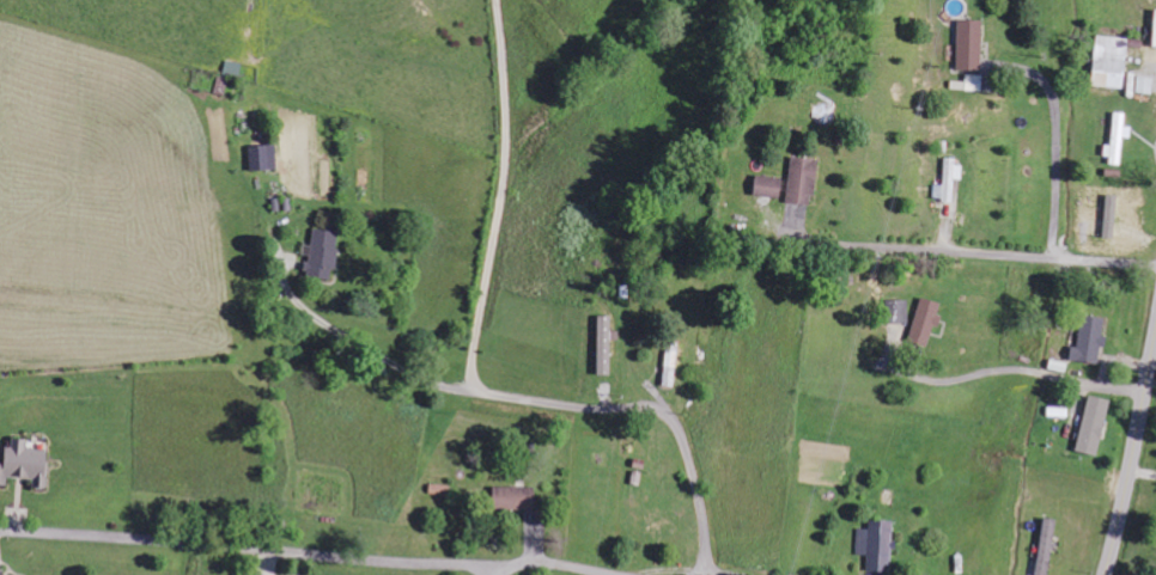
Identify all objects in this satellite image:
building: (973, 44)
building: (1113, 61)
building: (975, 82)
building: (1146, 85)
building: (1120, 139)
building: (264, 158)
building: (950, 181)
building: (808, 182)
building: (774, 188)
road: (503, 195)
road: (969, 249)
building: (323, 253)
building: (899, 312)
building: (926, 322)
road: (331, 325)
building: (1091, 340)
building: (607, 345)
building: (674, 362)
road: (1015, 368)
road: (631, 404)
building: (1095, 426)
road: (1133, 455)
building: (28, 463)
building: (517, 496)
building: (878, 544)
building: (1048, 546)
road: (254, 548)
road: (560, 562)
building: (4, 571)

